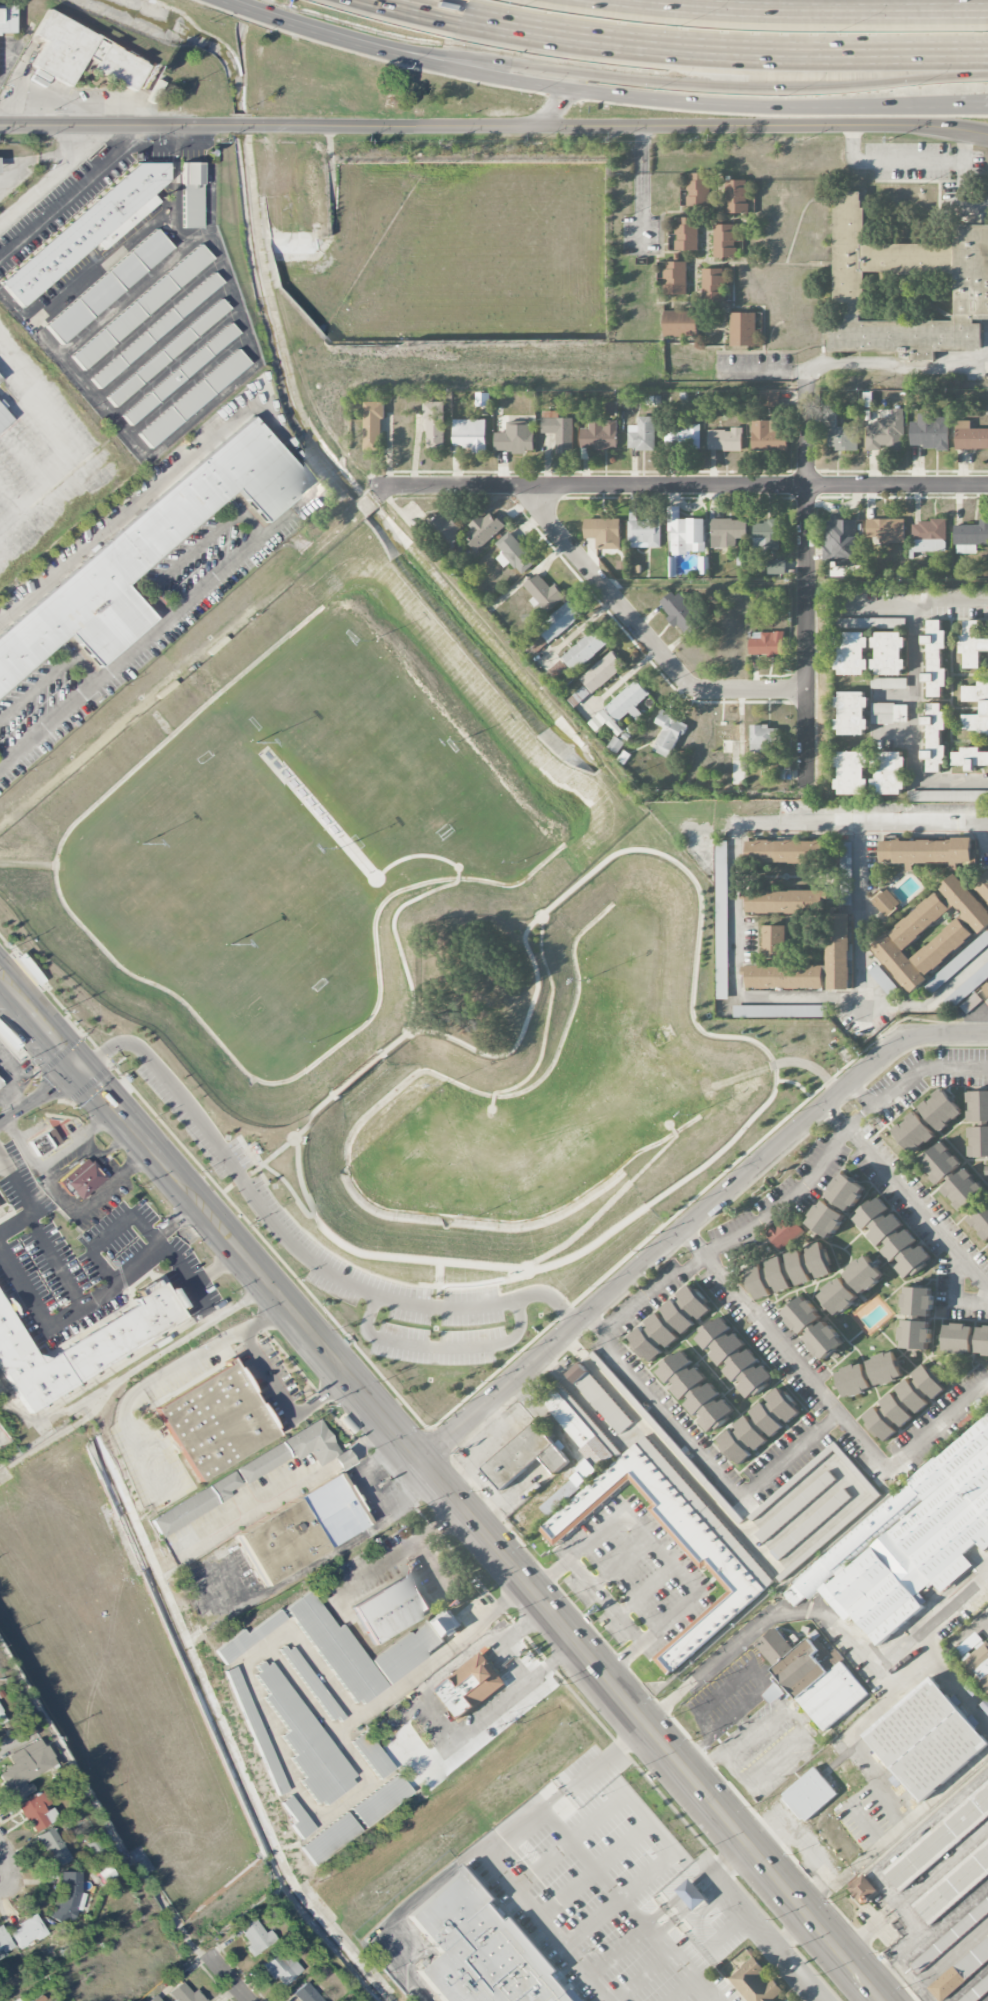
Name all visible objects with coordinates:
road: (801, 9)
road: (309, 26)
road: (692, 46)
building: (81, 54)
road: (686, 83)
road: (670, 101)
road: (555, 107)
road: (974, 110)
road: (494, 126)
road: (32, 159)
road: (890, 161)
road: (963, 178)
road: (48, 179)
road: (640, 182)
building: (699, 189)
road: (71, 195)
building: (190, 195)
building: (737, 195)
building: (976, 219)
building: (88, 229)
building: (686, 233)
building: (725, 240)
building: (675, 277)
building: (713, 284)
building: (107, 286)
building: (906, 289)
road: (125, 296)
building: (140, 307)
road: (150, 318)
building: (680, 323)
building: (743, 328)
building: (156, 329)
road: (162, 341)
building: (167, 352)
road: (174, 362)
road: (896, 368)
road: (763, 371)
building: (179, 374)
road: (186, 384)
road: (46, 396)
building: (192, 397)
building: (483, 399)
building: (770, 399)
building: (3, 419)
building: (434, 424)
building: (373, 426)
building: (558, 430)
building: (838, 432)
building: (930, 432)
building: (886, 434)
building: (470, 435)
building: (642, 435)
building: (599, 436)
building: (768, 437)
building: (970, 437)
road: (166, 438)
building: (516, 438)
building: (683, 438)
building: (725, 440)
road: (310, 475)
road: (680, 485)
road: (47, 497)
building: (447, 529)
building: (485, 530)
building: (886, 530)
building: (643, 532)
building: (727, 532)
building: (604, 533)
building: (686, 534)
building: (766, 536)
building: (928, 536)
building: (971, 537)
building: (842, 542)
road: (194, 548)
building: (145, 552)
building: (514, 554)
building: (776, 567)
road: (806, 583)
building: (544, 594)
road: (878, 600)
building: (680, 612)
building: (553, 627)
road: (642, 634)
building: (767, 644)
building: (972, 644)
building: (584, 651)
building: (854, 653)
building: (889, 653)
building: (935, 656)
building: (602, 672)
road: (50, 675)
building: (890, 683)
road: (911, 685)
building: (624, 706)
building: (984, 708)
building: (853, 713)
building: (890, 713)
building: (668, 734)
building: (935, 737)
building: (765, 738)
building: (971, 757)
building: (853, 772)
building: (890, 772)
building: (954, 796)
building: (784, 851)
building: (925, 851)
building: (845, 864)
building: (983, 885)
building: (784, 901)
building: (886, 903)
road: (736, 904)
road: (861, 909)
building: (963, 930)
road: (396, 937)
building: (775, 940)
building: (722, 942)
building: (839, 952)
building: (957, 963)
park: (389, 968)
building: (783, 977)
building: (882, 980)
building: (986, 987)
building: (967, 988)
road: (14, 995)
building: (779, 1011)
road: (546, 1017)
road: (986, 1032)
road: (750, 1040)
road: (54, 1041)
road: (807, 1064)
traffic signals: (79, 1069)
road: (360, 1073)
building: (0, 1082)
road: (800, 1087)
road: (95, 1088)
road: (9, 1090)
road: (863, 1090)
road: (39, 1094)
building: (978, 1106)
building: (939, 1110)
road: (131, 1129)
building: (913, 1133)
road: (23, 1140)
building: (44, 1141)
building: (978, 1142)
road: (271, 1154)
road: (161, 1163)
building: (939, 1163)
building: (986, 1171)
building: (82, 1178)
road: (288, 1188)
road: (59, 1191)
road: (798, 1191)
building: (963, 1191)
building: (845, 1192)
road: (906, 1195)
building: (826, 1218)
road: (691, 1220)
parking lot: (278, 1222)
building: (980, 1222)
road: (14, 1224)
building: (785, 1233)
road: (222, 1235)
building: (892, 1238)
road: (570, 1239)
road: (286, 1243)
building: (788, 1271)
road: (194, 1283)
road: (438, 1284)
building: (851, 1285)
road: (33, 1299)
road: (75, 1299)
building: (918, 1301)
building: (802, 1314)
building: (669, 1323)
building: (915, 1334)
building: (965, 1339)
building: (824, 1340)
building: (84, 1344)
road: (440, 1347)
building: (734, 1357)
building: (868, 1374)
road: (160, 1378)
building: (695, 1391)
building: (599, 1398)
road: (282, 1400)
road: (826, 1400)
building: (903, 1402)
building: (215, 1420)
building: (758, 1425)
road: (487, 1437)
road: (15, 1444)
building: (295, 1452)
road: (700, 1455)
building: (523, 1456)
road: (358, 1471)
road: (482, 1483)
road: (288, 1491)
building: (193, 1505)
building: (794, 1508)
building: (300, 1529)
building: (702, 1535)
road: (423, 1537)
building: (908, 1542)
road: (660, 1551)
road: (328, 1554)
building: (391, 1607)
road: (931, 1620)
building: (446, 1623)
road: (987, 1625)
road: (836, 1627)
building: (247, 1636)
road: (576, 1647)
building: (360, 1650)
road: (505, 1653)
road: (274, 1655)
road: (564, 1655)
building: (979, 1663)
road: (945, 1674)
building: (811, 1677)
building: (311, 1683)
road: (763, 1683)
building: (469, 1686)
building: (1, 1718)
road: (793, 1720)
building: (254, 1729)
building: (303, 1737)
building: (926, 1739)
building: (371, 1754)
road: (608, 1754)
building: (23, 1769)
road: (555, 1794)
building: (809, 1794)
building: (380, 1800)
building: (36, 1811)
building: (294, 1816)
road: (651, 1821)
road: (794, 1833)
building: (328, 1838)
building: (939, 1839)
road: (881, 1841)
building: (53, 1847)
road: (8, 1860)
road: (719, 1860)
road: (943, 1868)
road: (593, 1869)
road: (596, 1870)
road: (728, 1872)
building: (953, 1885)
road: (687, 1888)
building: (862, 1890)
road: (826, 1892)
building: (692, 1895)
building: (67, 1897)
road: (697, 1899)
road: (524, 1900)
road: (745, 1917)
road: (940, 1925)
road: (647, 1931)
road: (871, 1931)
building: (28, 1932)
road: (792, 1935)
building: (949, 1935)
building: (254, 1937)
building: (4, 1943)
building: (480, 1949)
road: (681, 1965)
building: (280, 1967)
building: (959, 1969)
road: (798, 1975)
road: (228, 1978)
building: (756, 1982)
building: (974, 1990)
building: (305, 1993)
building: (185, 1994)
building: (154, 1999)
road: (877, 2000)

